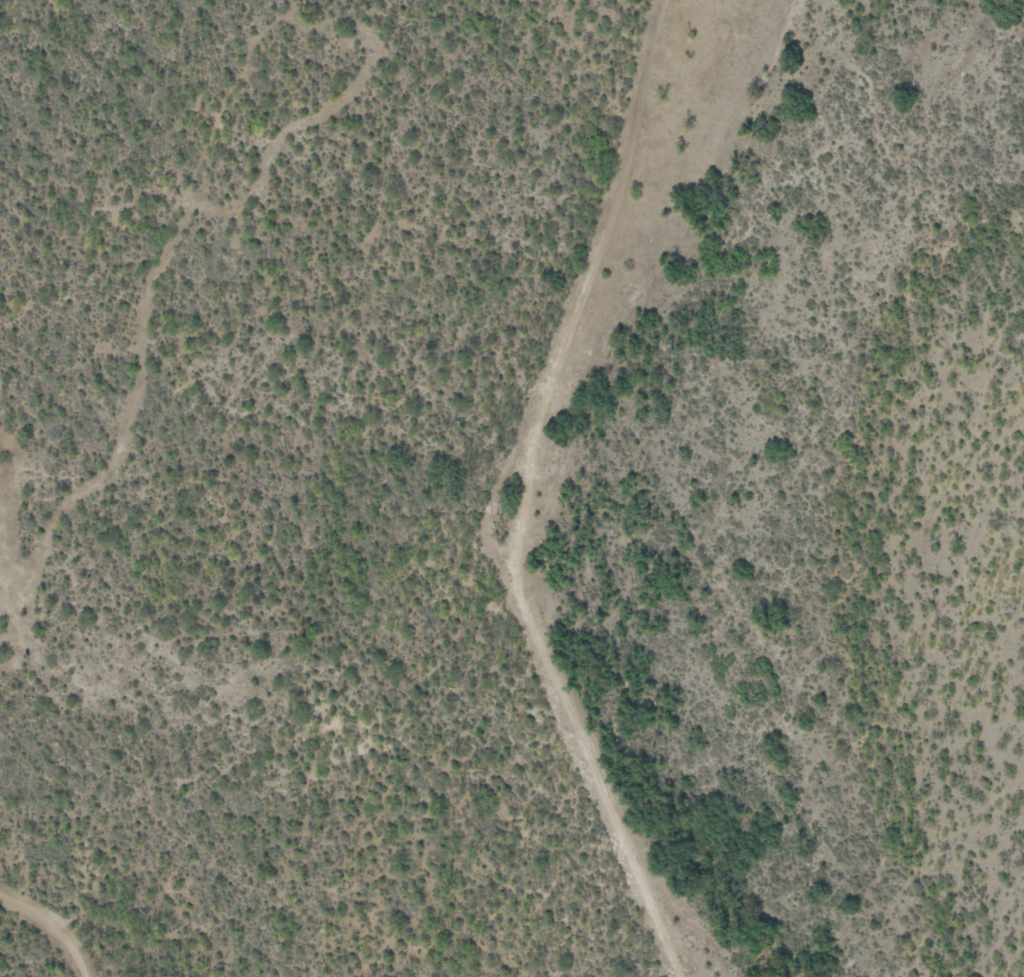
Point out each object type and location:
road: (11, 963)

